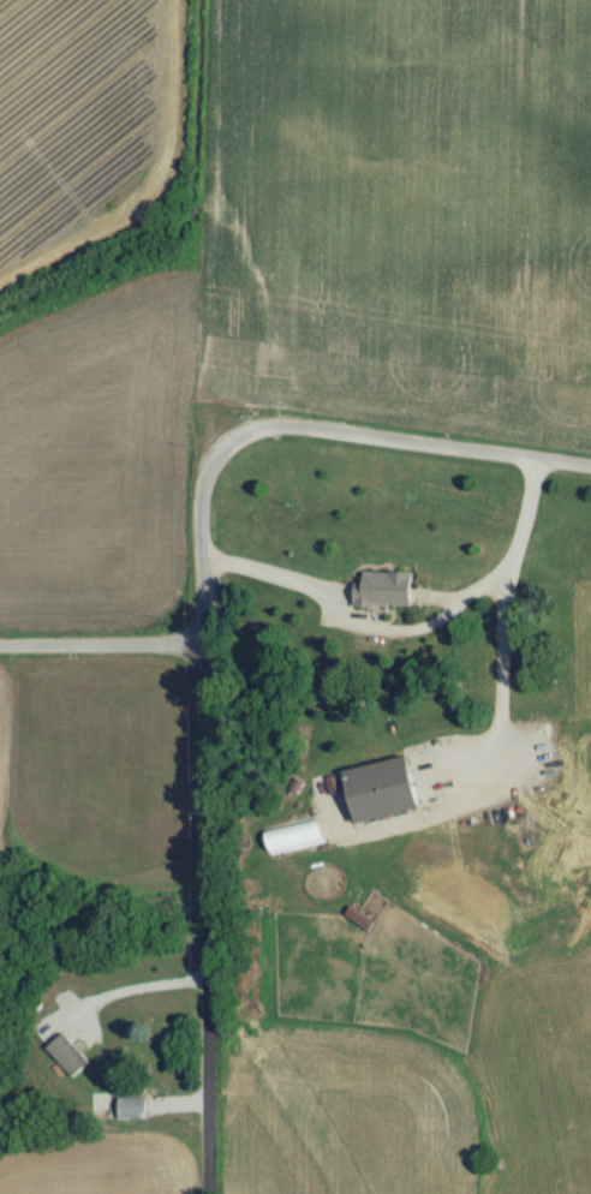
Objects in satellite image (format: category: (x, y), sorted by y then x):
road: (311, 429)
building: (386, 599)
road: (413, 629)
road: (102, 639)
building: (384, 799)
road: (205, 915)
building: (68, 1064)
building: (133, 1117)

